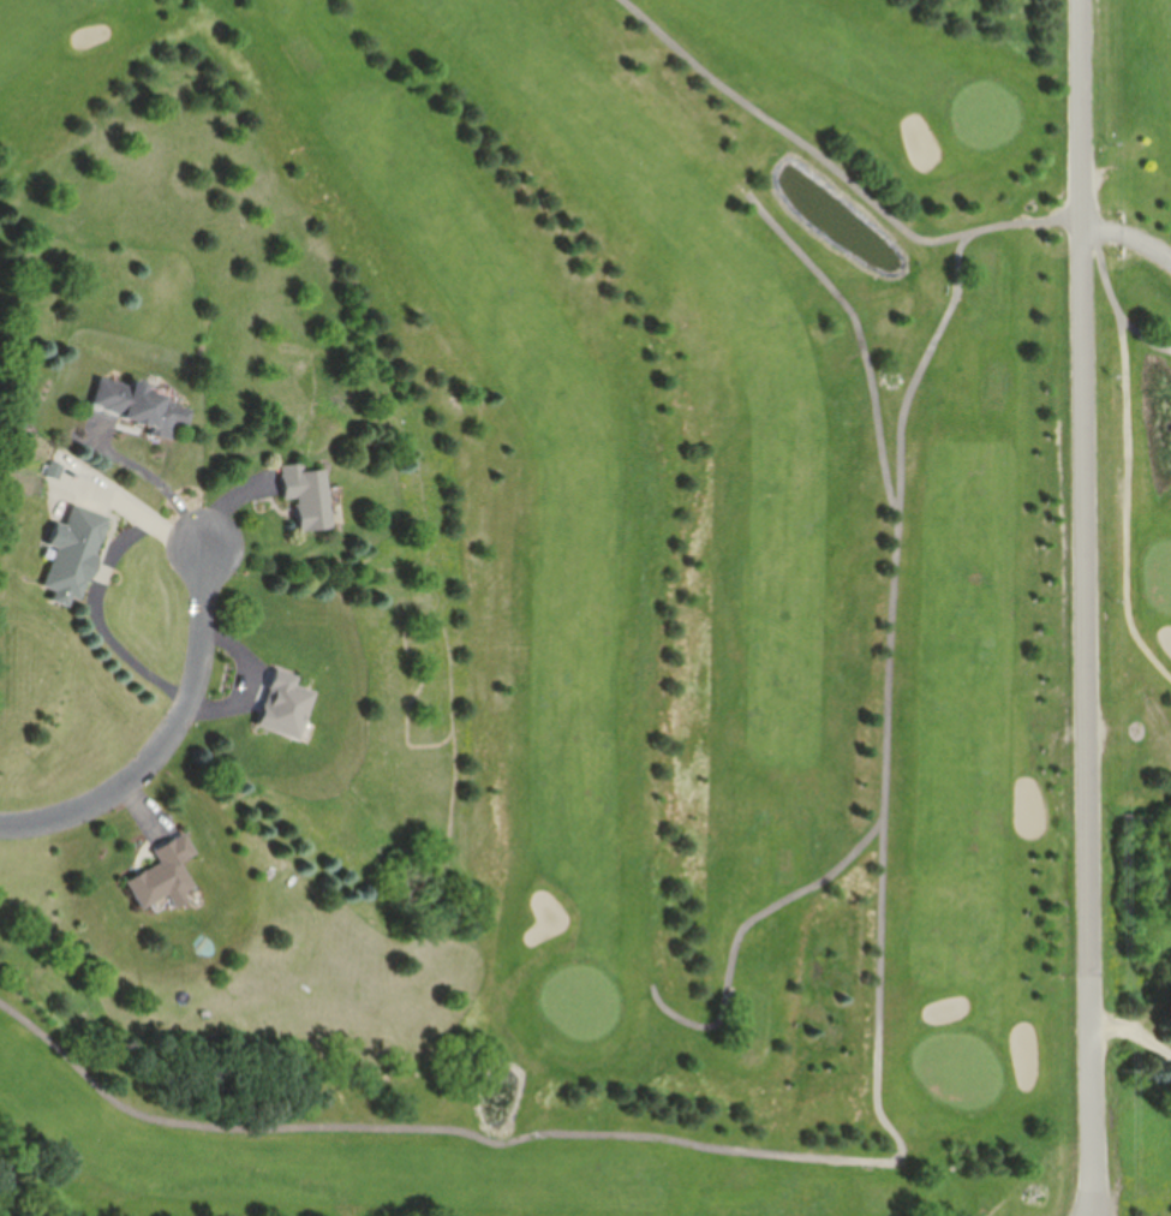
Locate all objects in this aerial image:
road: (1129, 234)
park: (1141, 272)
road: (1116, 297)
building: (135, 406)
building: (303, 495)
building: (68, 553)
road: (97, 594)
road: (1087, 608)
park: (657, 613)
building: (279, 705)
road: (169, 737)
building: (159, 872)
park: (1131, 1020)
road: (1135, 1035)
road: (1093, 1206)

